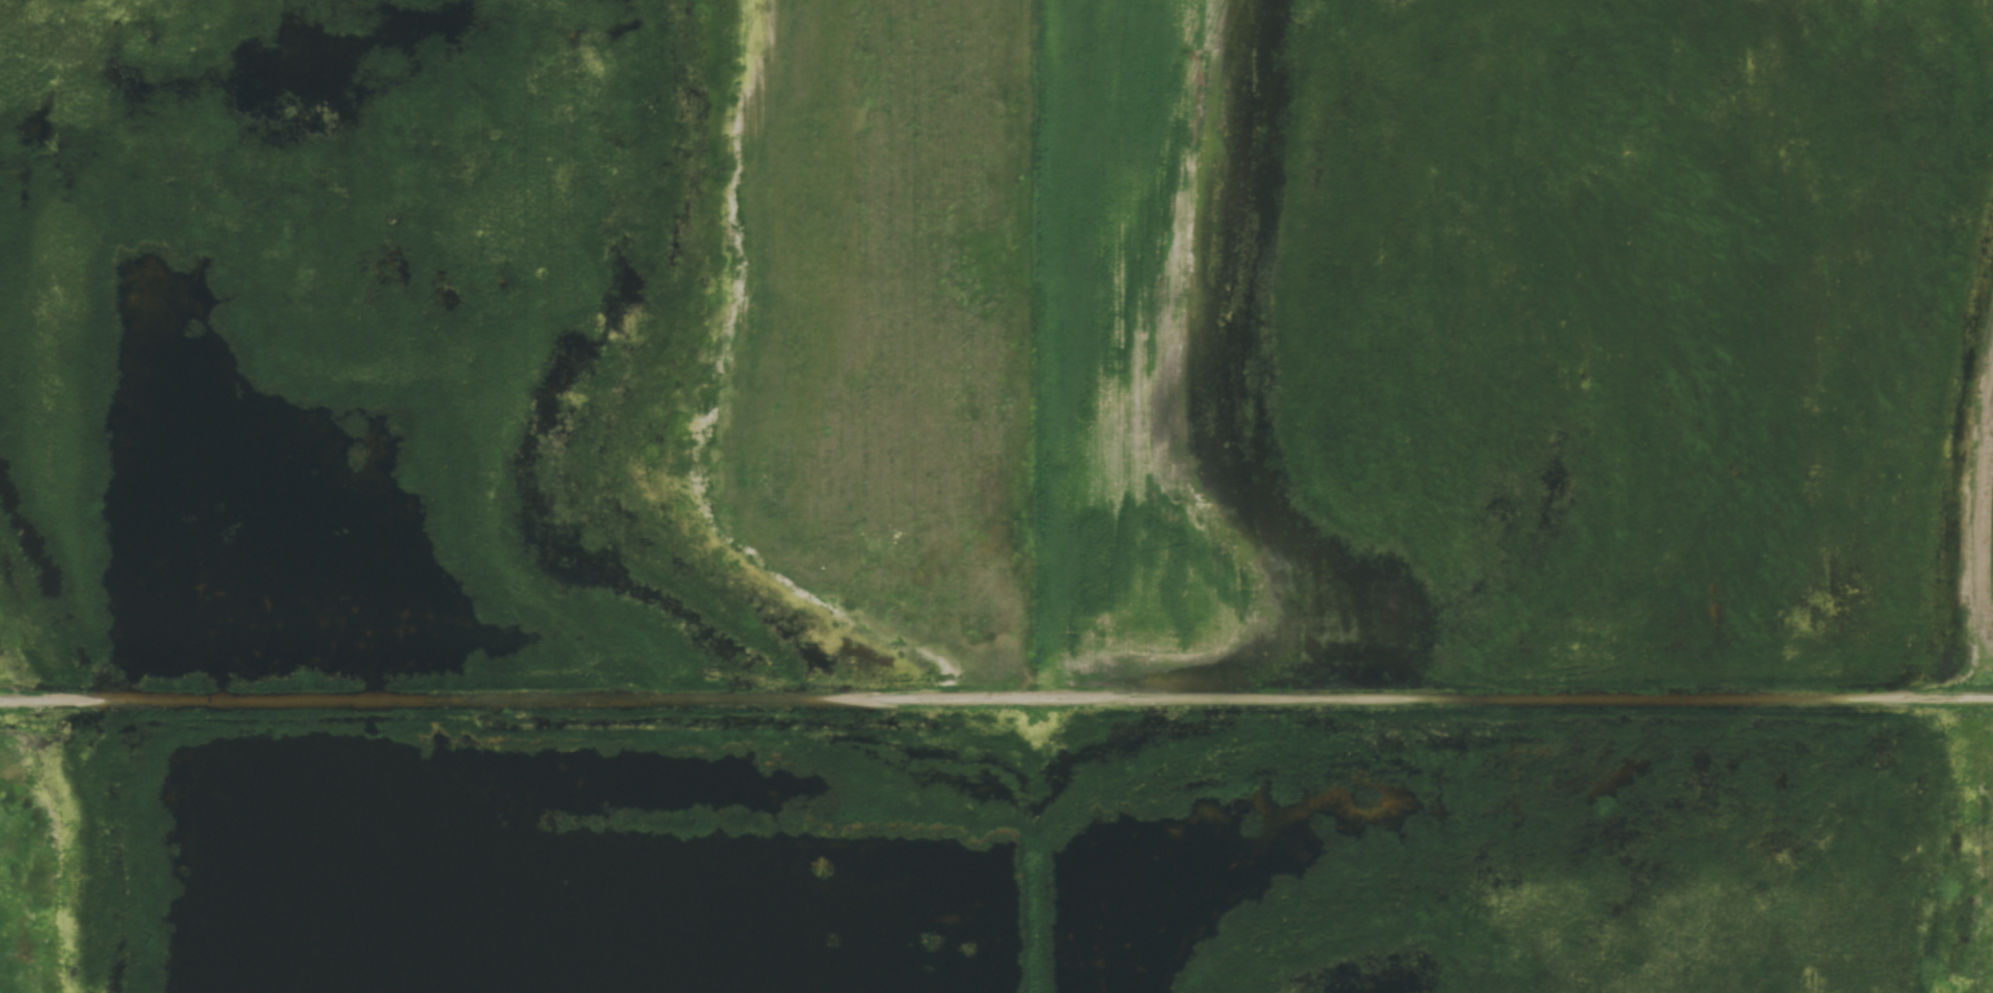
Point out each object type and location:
road: (996, 700)

